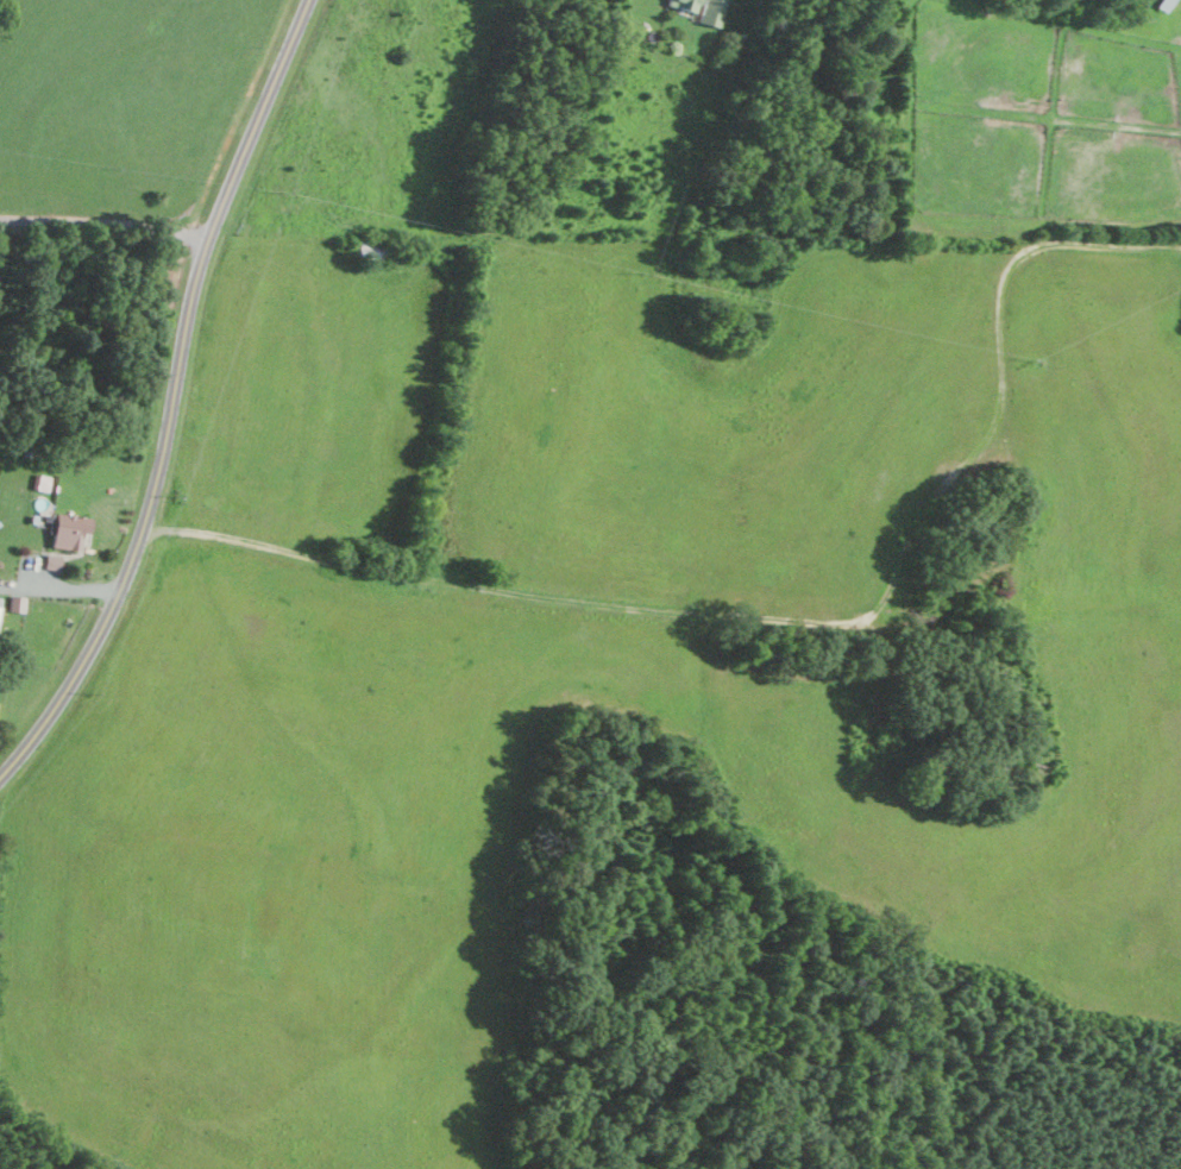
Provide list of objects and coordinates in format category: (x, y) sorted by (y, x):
road: (105, 224)
road: (174, 400)
building: (70, 530)
road: (59, 587)
building: (0, 599)

